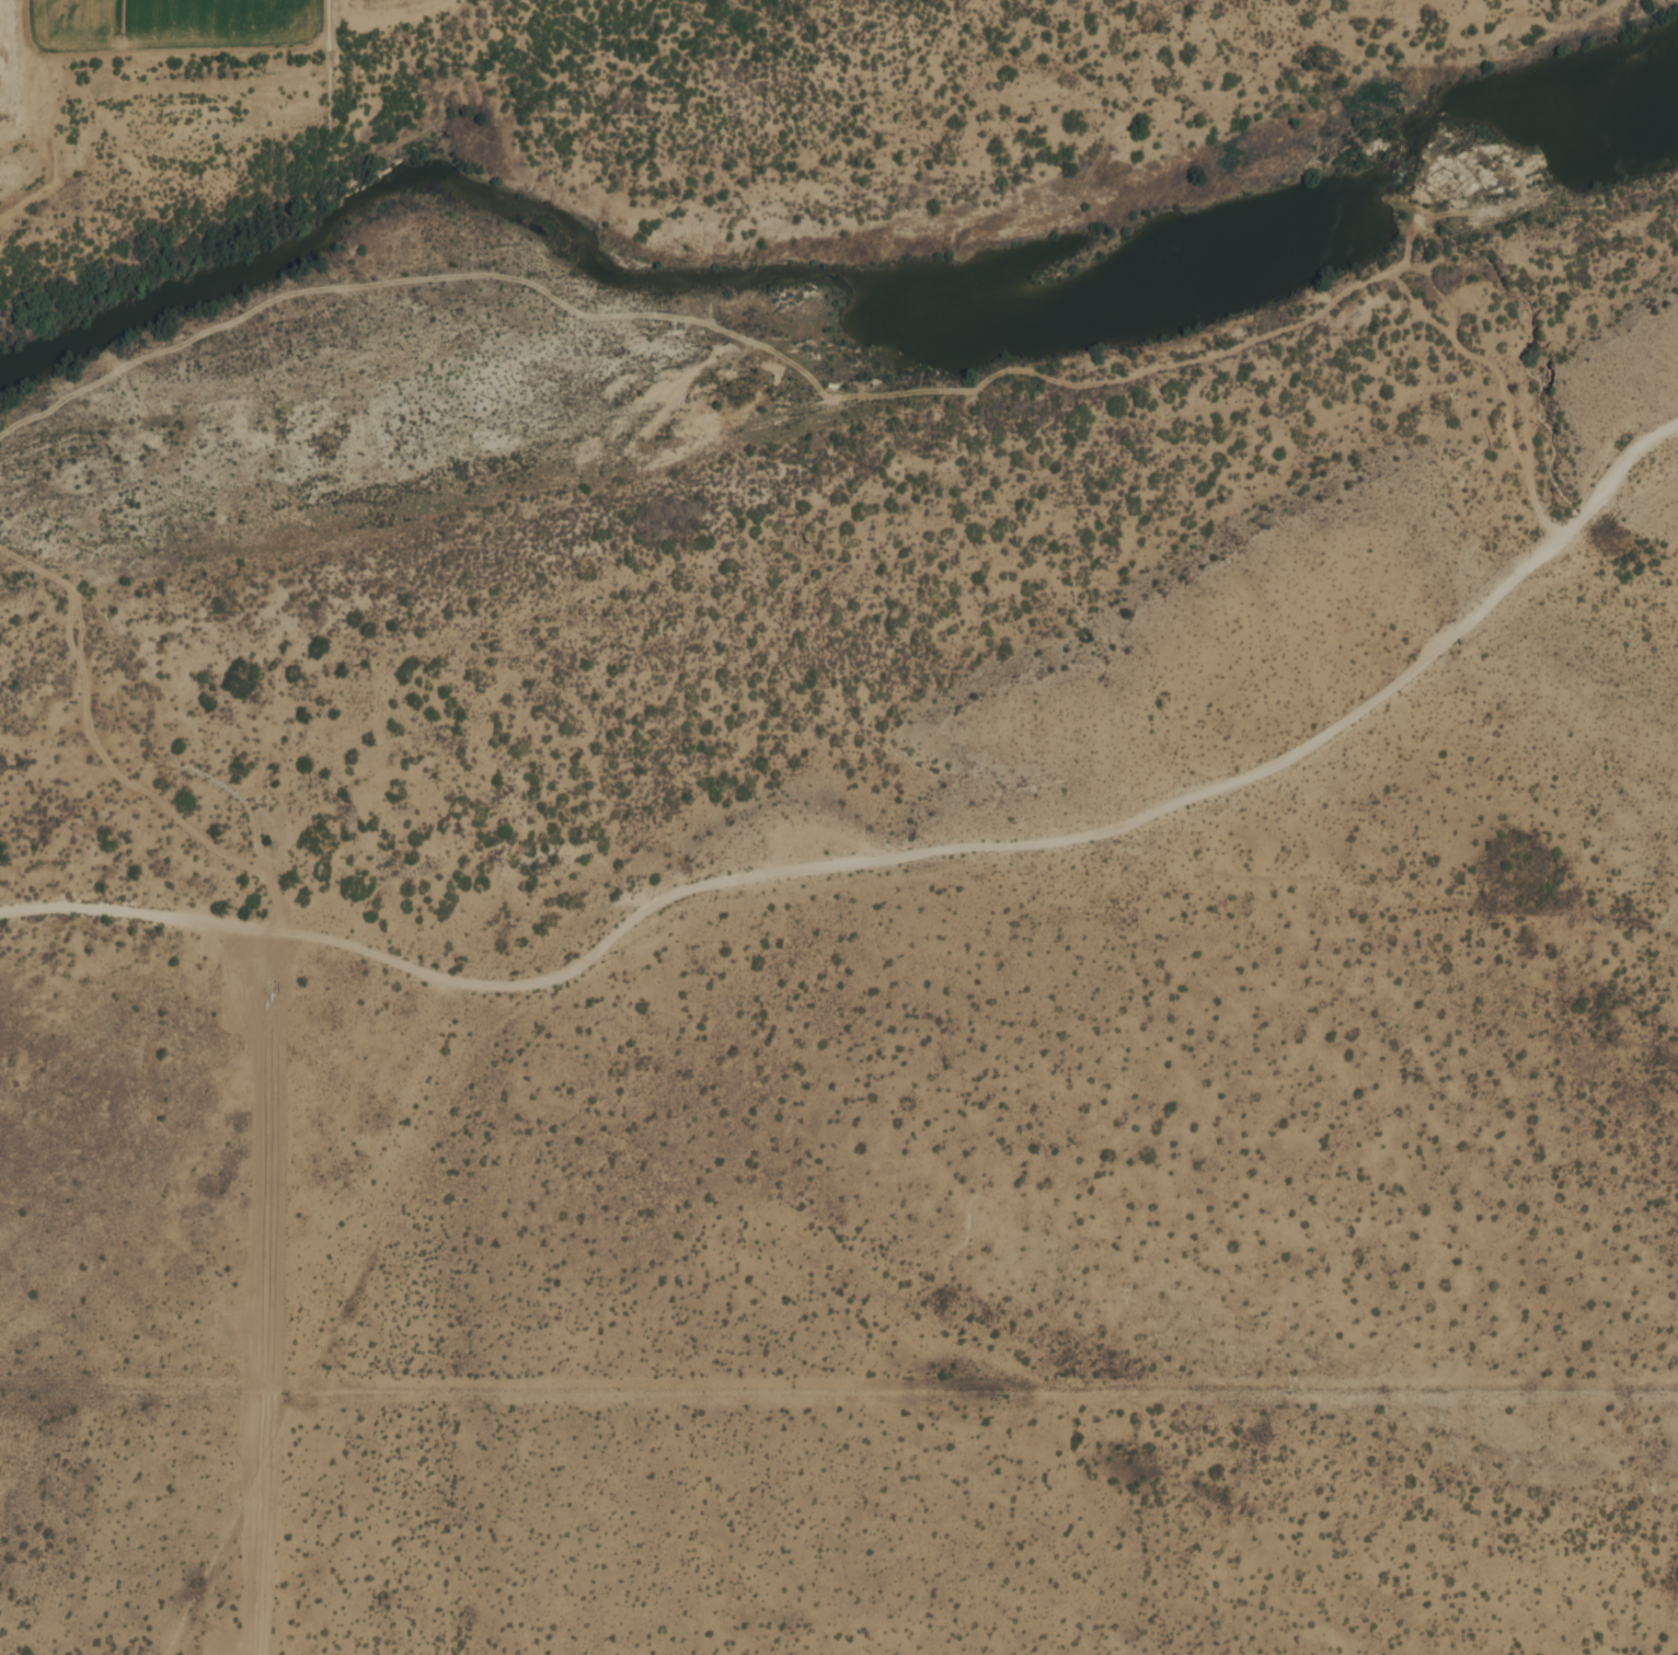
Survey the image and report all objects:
river: (821, 303)
road: (651, 307)
road: (189, 332)
road: (874, 399)
road: (160, 757)
road: (893, 859)

